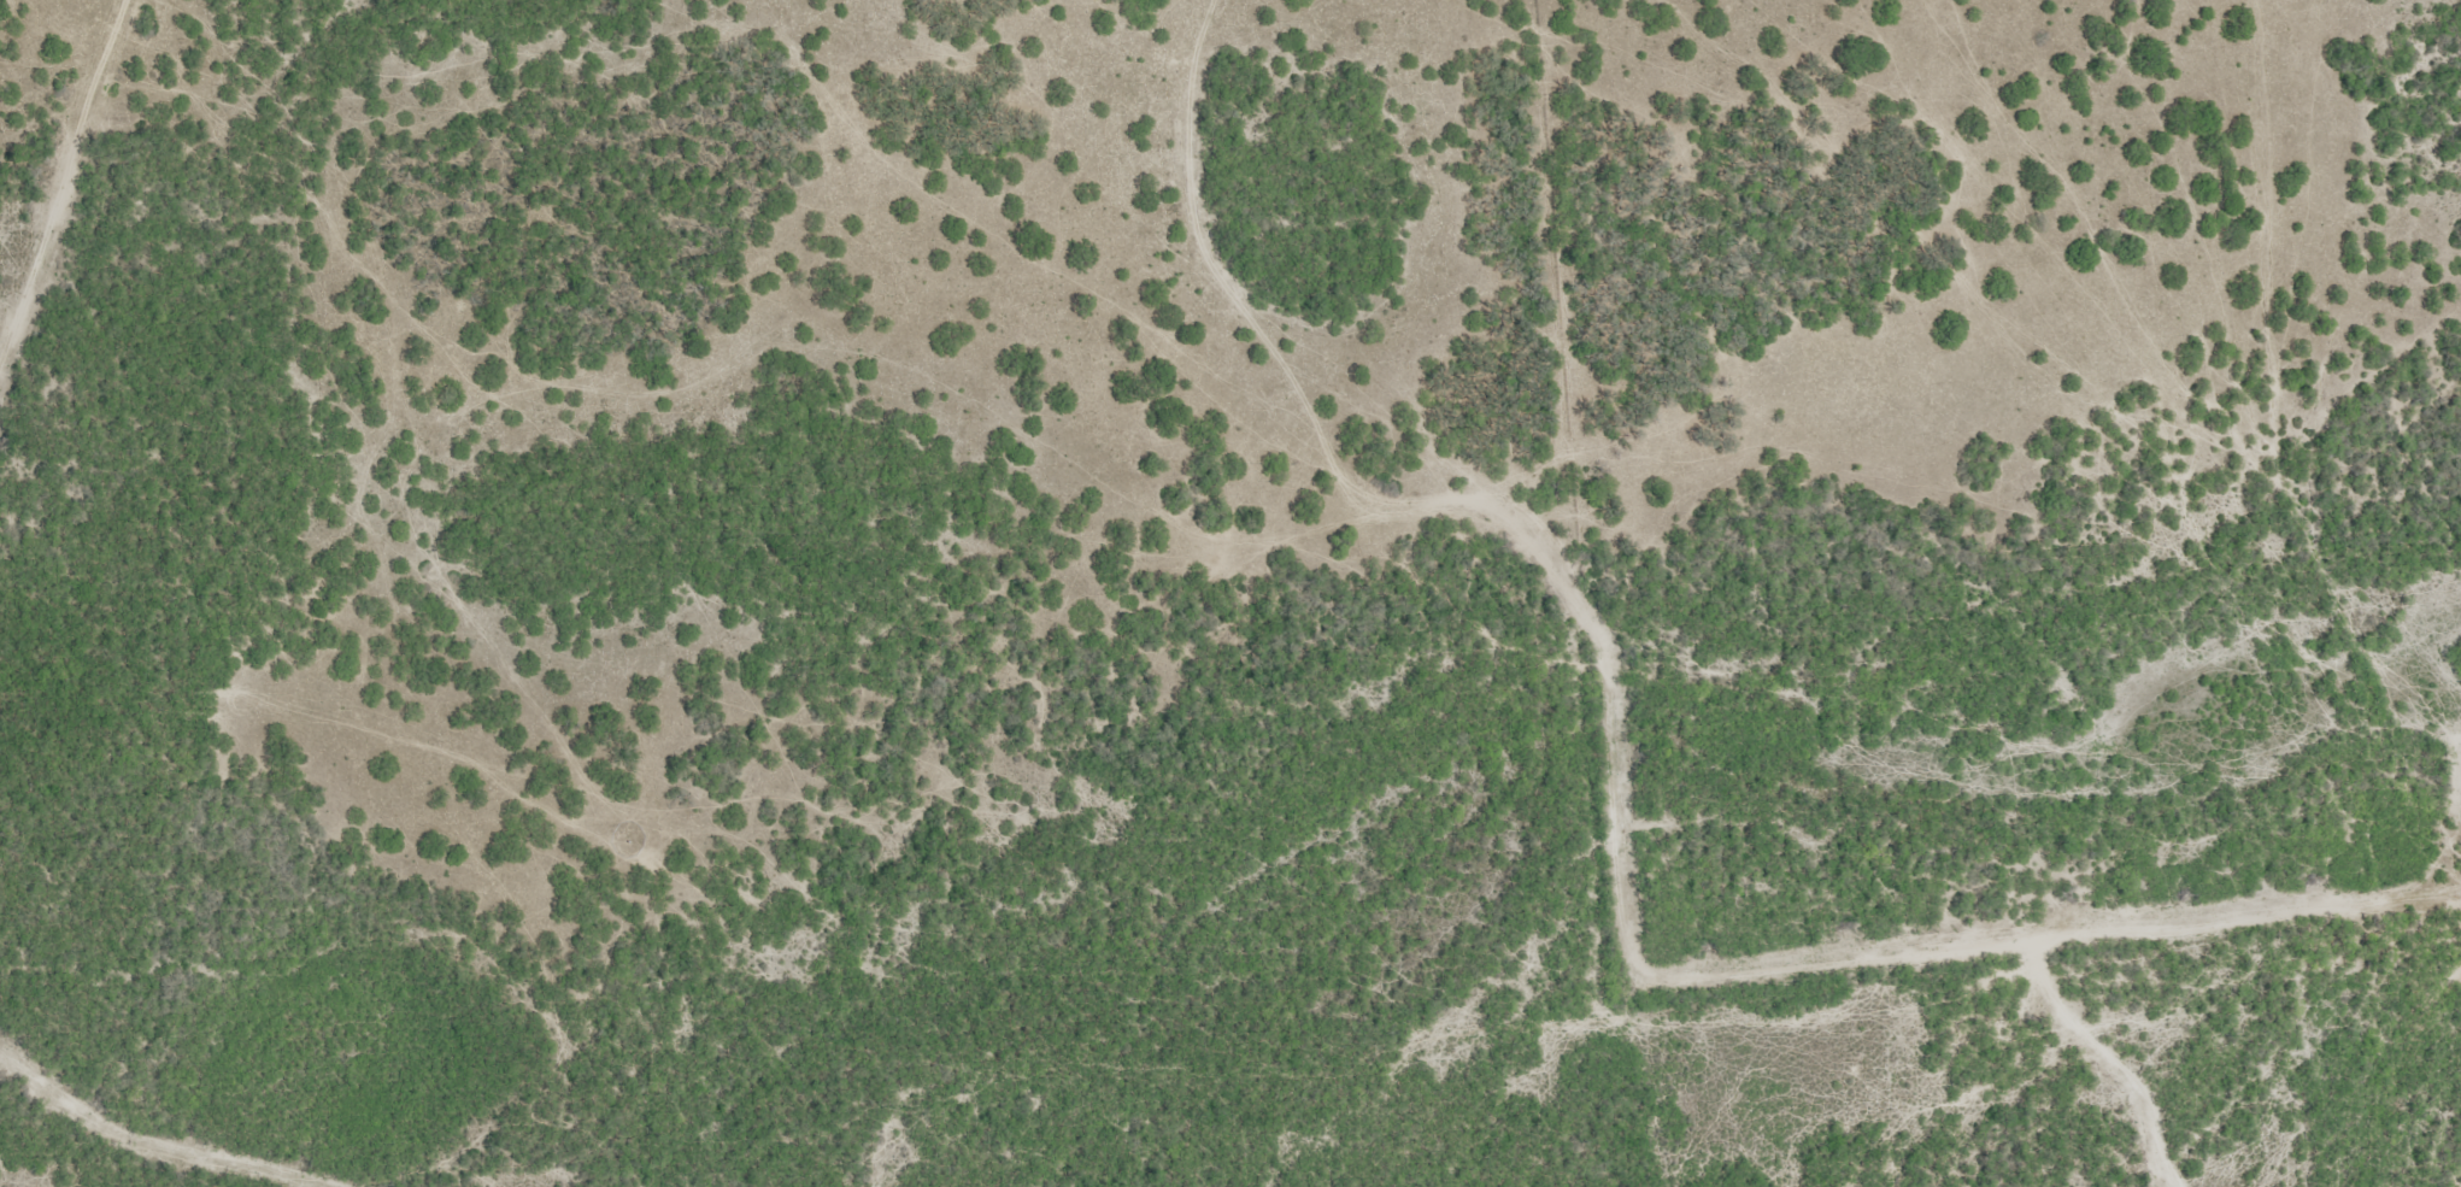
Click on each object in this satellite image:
road: (1669, 605)

